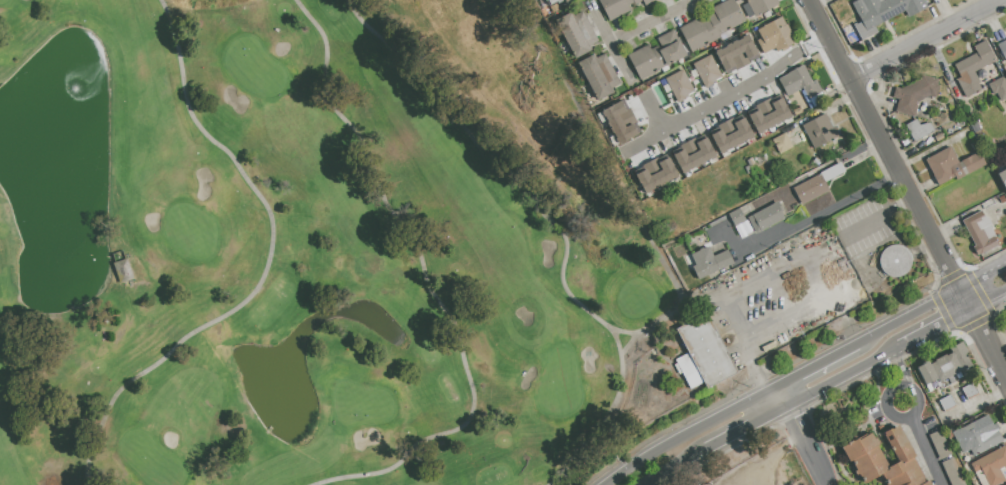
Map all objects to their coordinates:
road: (995, 1)
building: (551, 2)
building: (761, 5)
building: (617, 7)
building: (882, 12)
road: (661, 16)
building: (712, 25)
building: (576, 33)
building: (774, 36)
road: (927, 39)
building: (747, 45)
building: (1002, 48)
building: (656, 55)
building: (973, 67)
building: (707, 70)
road: (759, 71)
building: (598, 75)
building: (679, 85)
building: (802, 85)
building: (999, 87)
building: (914, 93)
building: (766, 113)
building: (620, 121)
building: (974, 125)
building: (793, 128)
building: (918, 129)
building: (820, 132)
building: (729, 133)
building: (938, 137)
building: (782, 143)
road: (885, 145)
building: (691, 153)
building: (952, 165)
building: (653, 173)
building: (1003, 178)
building: (816, 184)
building: (1002, 199)
building: (988, 204)
road: (821, 211)
building: (765, 217)
building: (740, 224)
building: (980, 233)
park: (314, 249)
building: (894, 260)
building: (709, 261)
road: (981, 277)
road: (986, 298)
road: (961, 299)
road: (907, 316)
road: (932, 326)
road: (987, 341)
building: (702, 353)
road: (818, 365)
building: (945, 365)
road: (842, 375)
building: (969, 390)
road: (781, 396)
building: (947, 403)
road: (975, 403)
road: (745, 427)
road: (687, 432)
building: (979, 437)
road: (806, 444)
road: (921, 444)
building: (940, 444)
building: (861, 451)
building: (964, 459)
road: (673, 466)
building: (990, 467)
park: (766, 469)
building: (952, 472)
building: (1005, 484)

